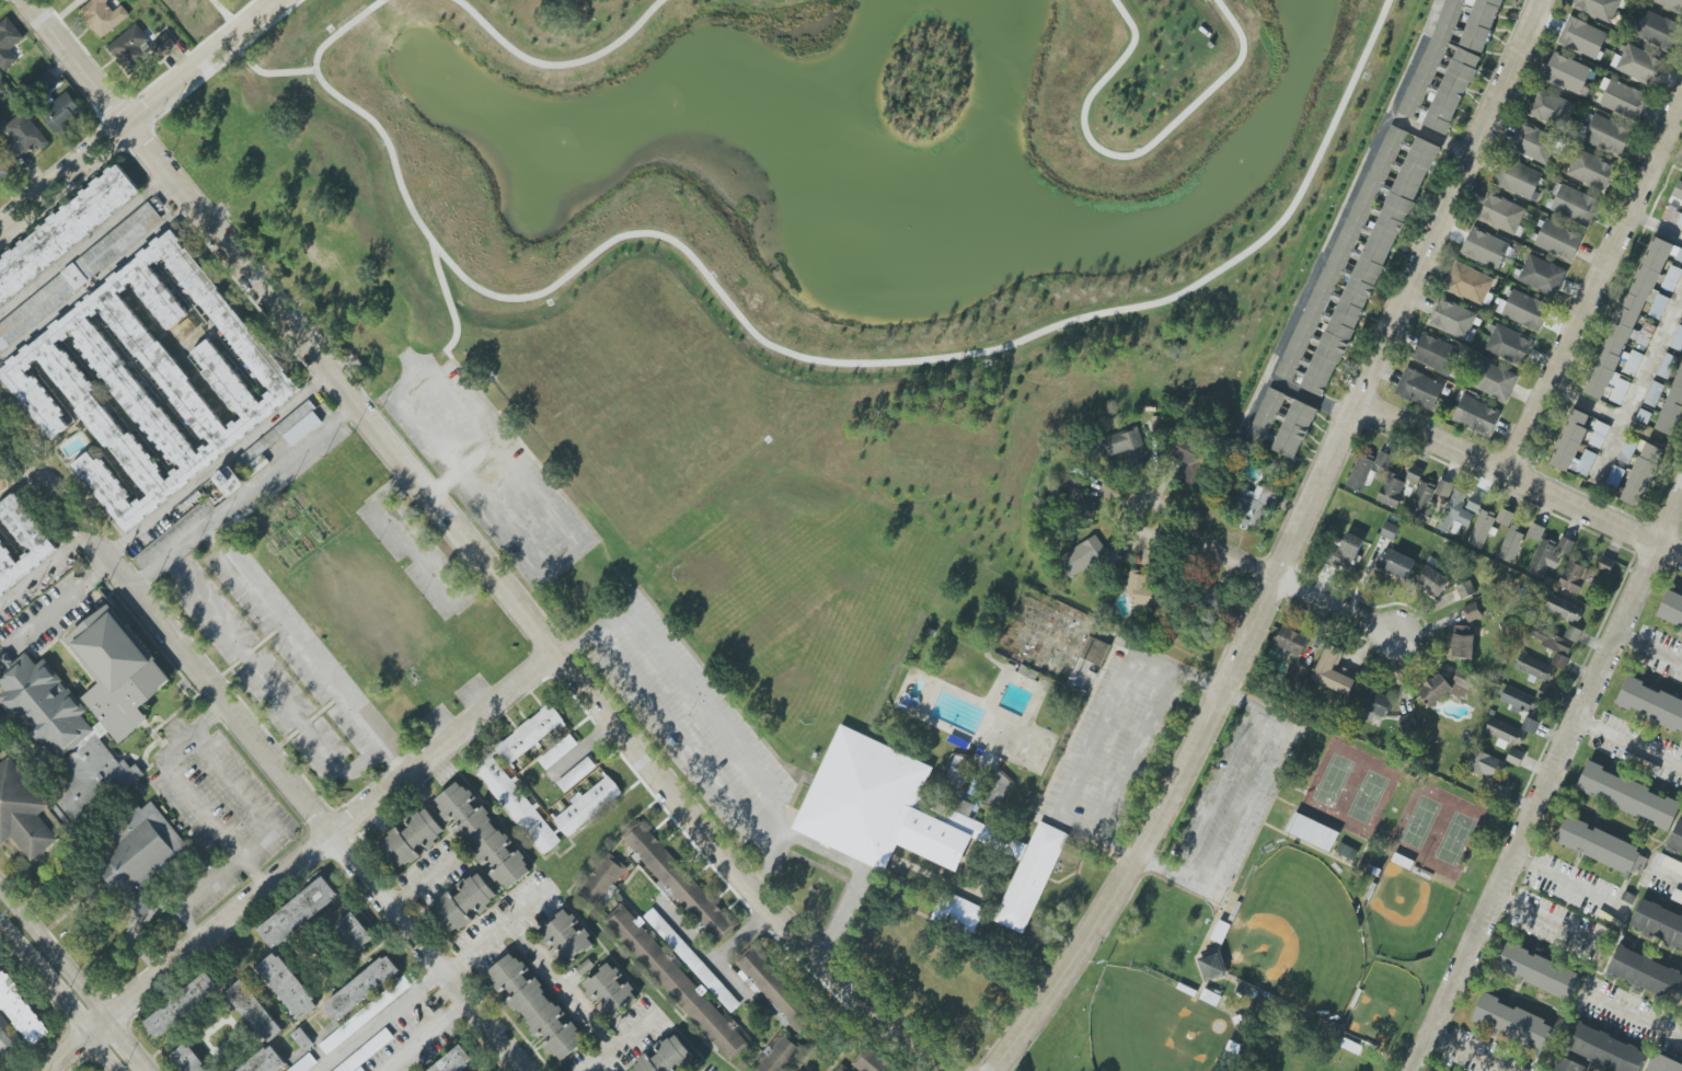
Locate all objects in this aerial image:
building: (1670, 4)
building: (1598, 8)
road: (228, 15)
building: (103, 16)
building: (1657, 31)
building: (1582, 37)
building: (9, 43)
building: (140, 47)
building: (1458, 56)
road: (1415, 58)
road: (560, 65)
building: (1639, 66)
road: (267, 73)
building: (1569, 74)
building: (2, 87)
building: (1622, 99)
building: (1410, 103)
building: (1551, 108)
building: (62, 114)
road: (141, 115)
building: (1606, 135)
building: (24, 136)
building: (1534, 142)
road: (1133, 154)
building: (4, 170)
building: (1590, 170)
building: (1378, 173)
building: (1519, 178)
building: (1678, 192)
building: (1575, 205)
building: (1501, 214)
building: (1677, 218)
road: (1658, 223)
building: (65, 231)
park: (764, 234)
building: (1558, 240)
road: (85, 243)
road: (1329, 245)
building: (1485, 247)
building: (82, 270)
building: (1542, 275)
building: (1672, 278)
road: (97, 283)
building: (1468, 284)
road: (1594, 291)
road: (450, 303)
building: (1525, 310)
building: (1452, 319)
building: (1634, 319)
building: (1678, 339)
building: (1508, 345)
road: (795, 354)
building: (1435, 354)
road: (1654, 357)
building: (153, 377)
building: (1493, 381)
building: (1419, 389)
road: (1616, 415)
building: (1266, 416)
building: (1476, 416)
building: (1294, 429)
building: (1599, 434)
building: (281, 437)
building: (1575, 446)
building: (1126, 447)
road: (476, 459)
building: (1193, 460)
road: (219, 462)
parking lot: (487, 468)
building: (1367, 469)
building: (1641, 474)
building: (1415, 475)
road: (523, 480)
road: (1519, 480)
building: (228, 481)
building: (1444, 488)
building: (1391, 491)
road: (246, 495)
building: (1426, 502)
building: (1475, 504)
building: (1255, 505)
building: (1455, 511)
building: (1505, 517)
building: (1482, 529)
building: (1390, 531)
building: (1535, 531)
building: (21, 543)
building: (1511, 544)
road: (474, 545)
road: (1291, 546)
road: (415, 550)
building: (1346, 552)
building: (1549, 555)
building: (1083, 556)
building: (1396, 563)
building: (1605, 565)
road: (45, 569)
road: (1274, 576)
building: (1574, 577)
building: (1432, 580)
building: (1465, 589)
building: (1142, 590)
road: (56, 606)
building: (1563, 608)
building: (1671, 609)
building: (1472, 612)
building: (1572, 634)
building: (1292, 641)
building: (1463, 642)
building: (1554, 645)
building: (1095, 650)
road: (1650, 652)
road: (304, 654)
building: (1534, 668)
building: (1334, 671)
road: (269, 683)
building: (1448, 687)
building: (1546, 692)
building: (1519, 701)
building: (1378, 703)
building: (1651, 705)
road: (704, 707)
road: (216, 714)
parking lot: (688, 714)
building: (47, 716)
building: (1408, 723)
road: (671, 725)
building: (1530, 725)
road: (1099, 729)
building: (530, 735)
road: (262, 744)
road: (1629, 747)
parking lot: (1129, 750)
road: (1132, 750)
building: (557, 752)
building: (1516, 757)
building: (1484, 764)
building: (958, 772)
building: (576, 774)
road: (1547, 787)
park: (1349, 788)
building: (996, 790)
building: (1628, 796)
parking lot: (1221, 797)
road: (244, 799)
park: (1033, 801)
building: (518, 805)
building: (587, 806)
parking lot: (218, 809)
building: (23, 811)
road: (215, 827)
park: (1435, 829)
building: (1313, 832)
building: (925, 833)
building: (483, 834)
building: (412, 838)
building: (1677, 839)
road: (322, 842)
building: (1601, 845)
building: (134, 847)
building: (1347, 851)
road: (844, 860)
road: (253, 874)
road: (431, 874)
road: (1664, 877)
building: (601, 879)
building: (679, 882)
road: (1569, 888)
road: (399, 900)
building: (464, 903)
park: (1407, 910)
building: (296, 913)
building: (1658, 923)
road: (1549, 924)
building: (352, 929)
park: (1297, 930)
building: (1220, 932)
road: (188, 934)
road: (747, 935)
building: (566, 937)
road: (702, 952)
road: (24, 957)
building: (692, 960)
building: (1212, 966)
building: (585, 967)
building: (1540, 971)
building: (1647, 974)
road: (76, 977)
road: (434, 978)
building: (675, 982)
building: (285, 984)
road: (564, 984)
building: (360, 988)
building: (609, 991)
building: (776, 991)
building: (180, 1006)
building: (537, 1007)
building: (252, 1010)
park: (1383, 1010)
building: (20, 1011)
road: (67, 1012)
building: (365, 1015)
road: (1632, 1016)
building: (1512, 1022)
parking lot: (403, 1032)
road: (424, 1036)
building: (7, 1037)
building: (302, 1038)
road: (623, 1041)
building: (1604, 1049)
building: (366, 1051)
road: (1465, 1052)
road: (66, 1053)
road: (101, 1053)
building: (779, 1056)
building: (667, 1057)
building: (186, 1060)
building: (265, 1061)
building: (454, 1061)
building: (872, 1062)
building: (304, 1063)
building: (1664, 1063)
building: (1565, 1064)
building: (838, 1067)
road: (56, 1068)
building: (359, 1069)

